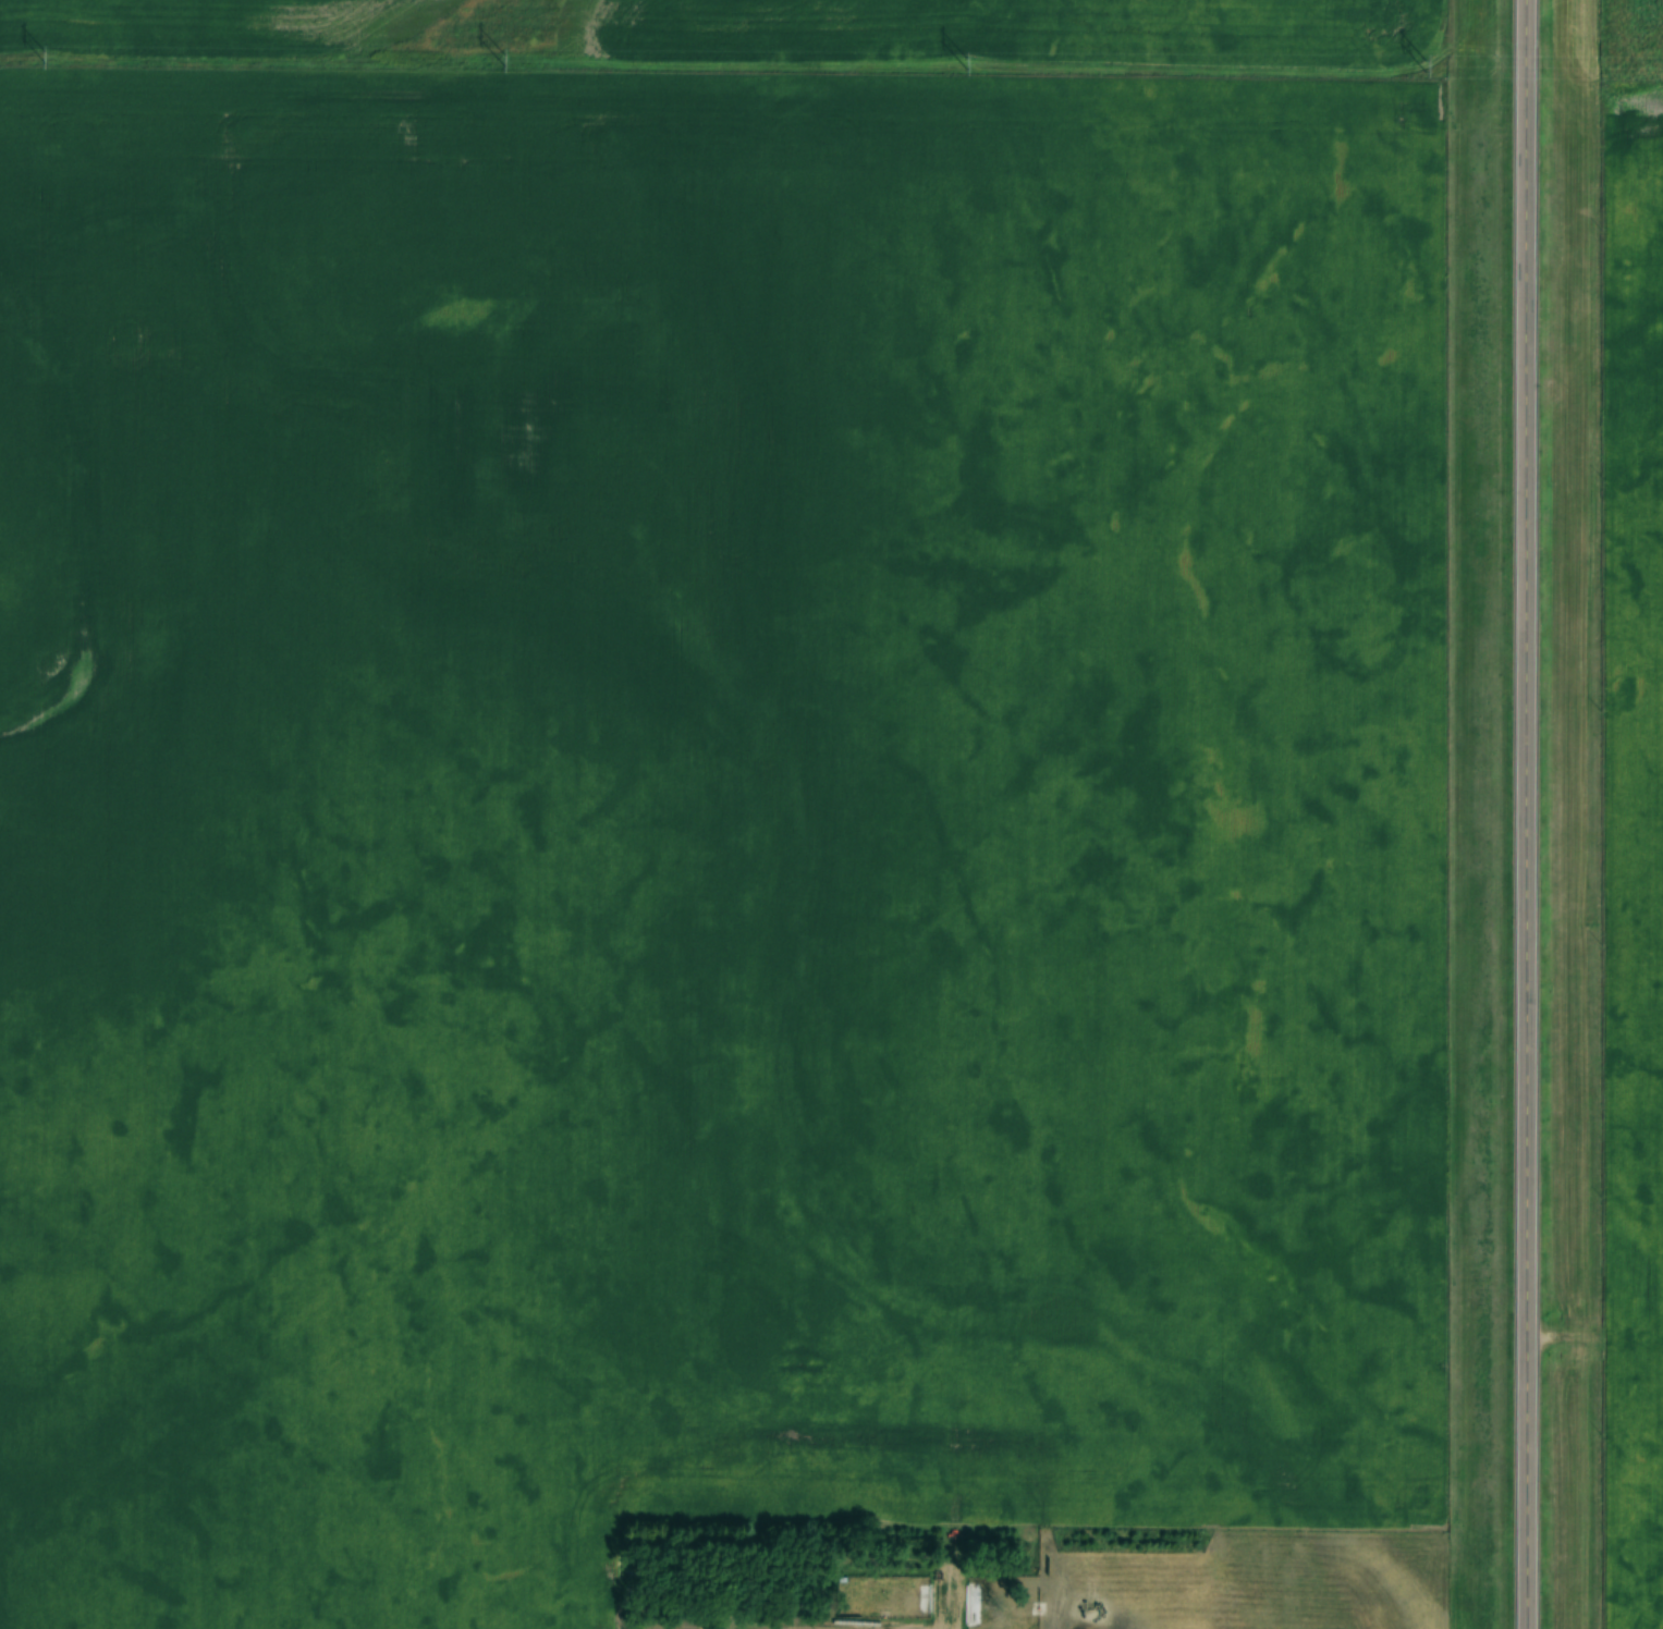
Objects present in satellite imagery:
power tower: (45, 58)
power tower: (504, 60)
power tower: (965, 63)
power tower: (1424, 65)
crop: (885, 699)
road: (1519, 814)

